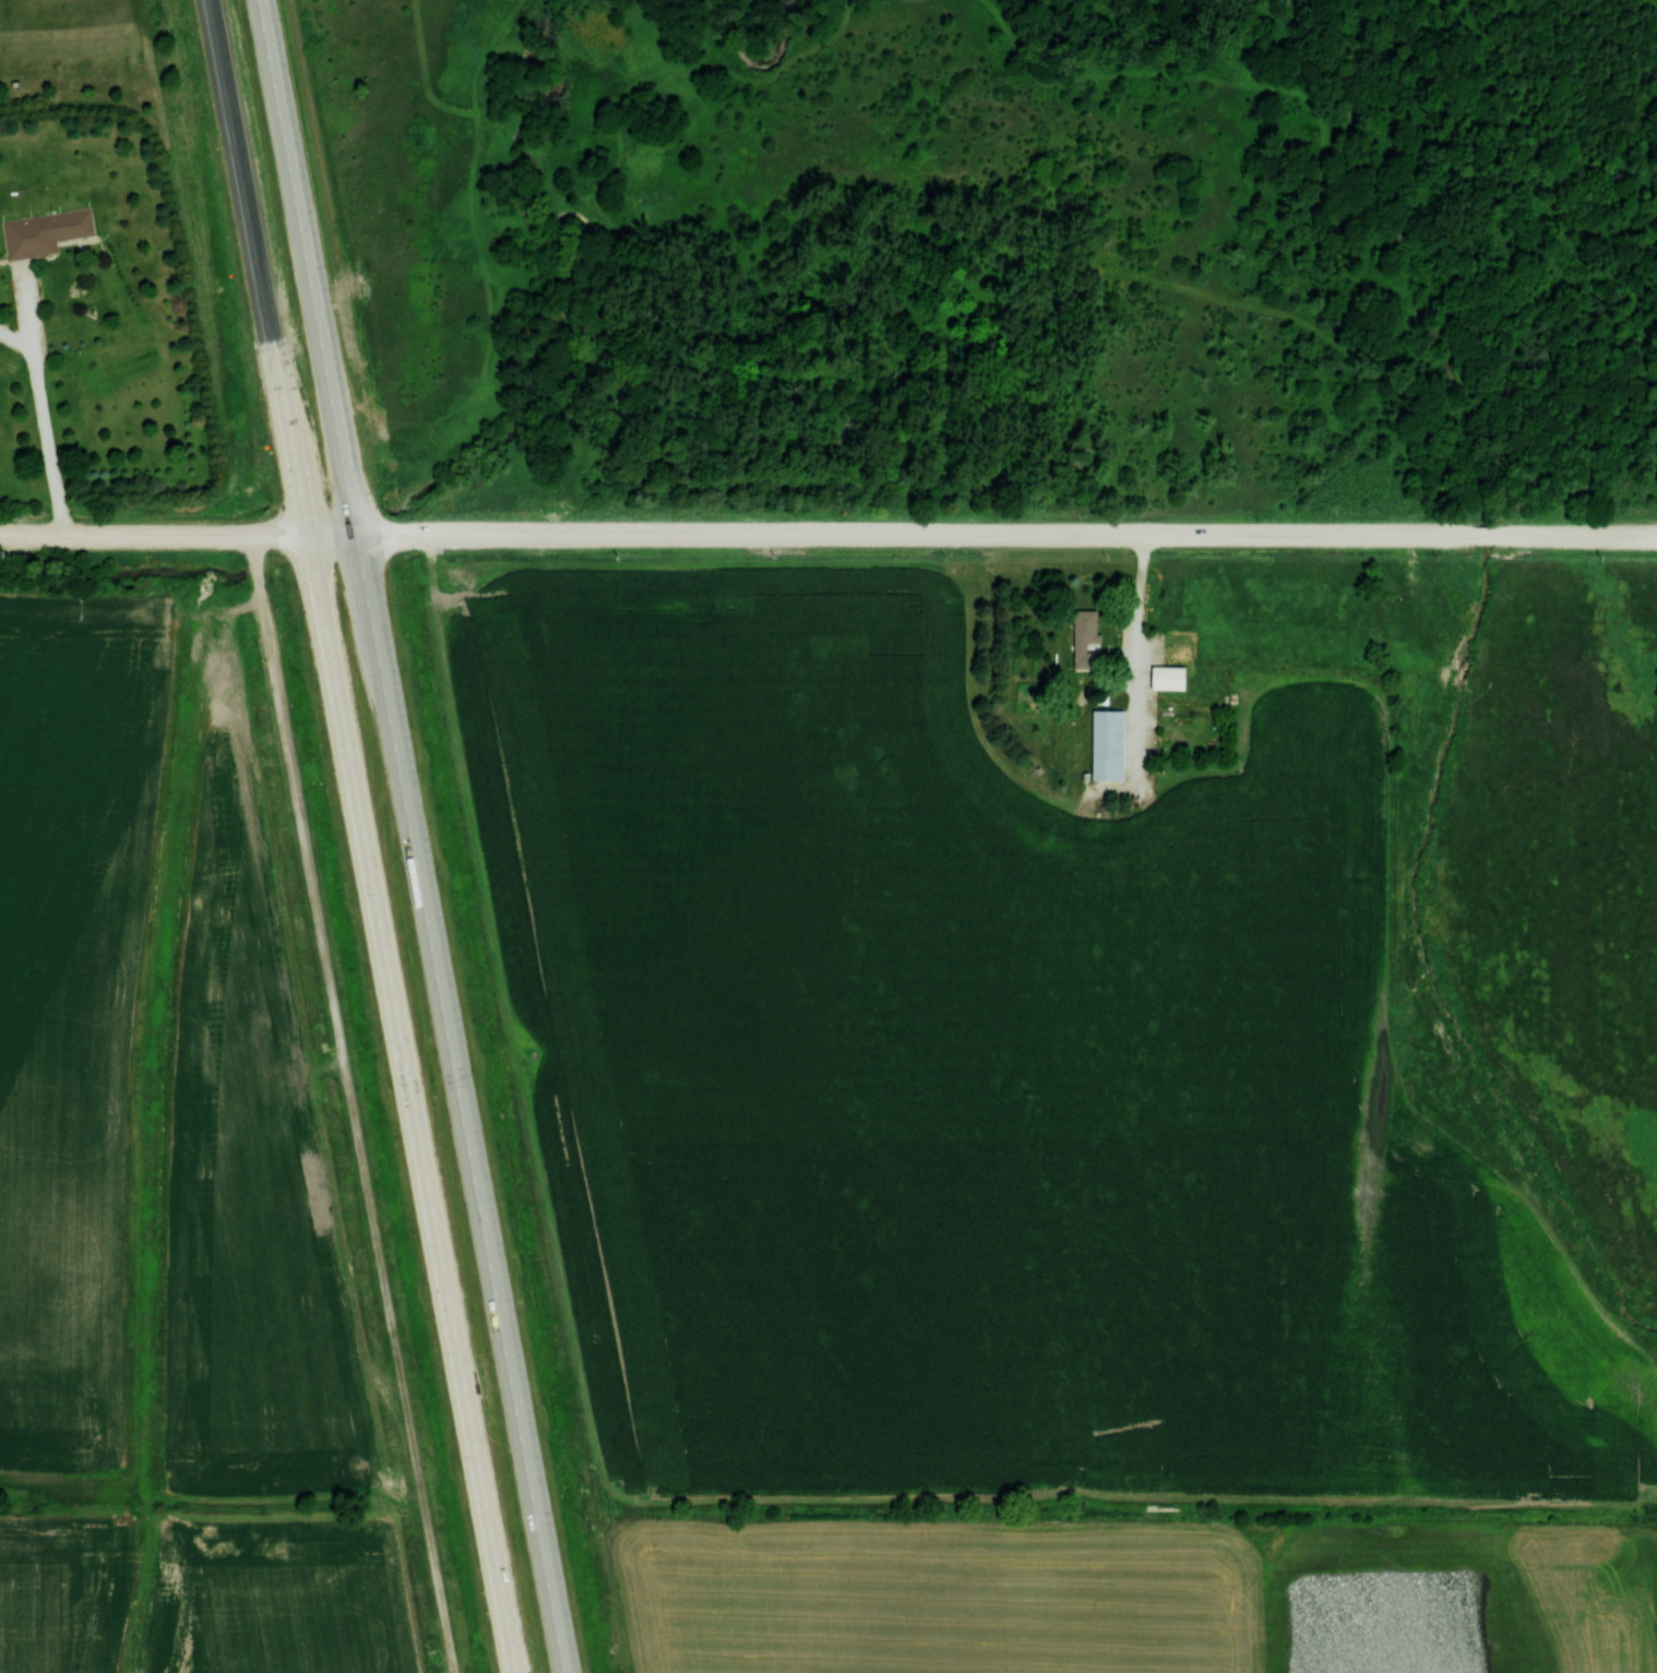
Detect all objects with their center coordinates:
building: (44, 231)
road: (1455, 256)
road: (306, 266)
park: (703, 266)
road: (500, 307)
road: (942, 344)
road: (43, 403)
road: (121, 534)
road: (1399, 535)
building: (1084, 636)
road: (1134, 656)
building: (1167, 677)
park: (1486, 682)
building: (1106, 744)
road: (353, 1102)
road: (461, 1103)

